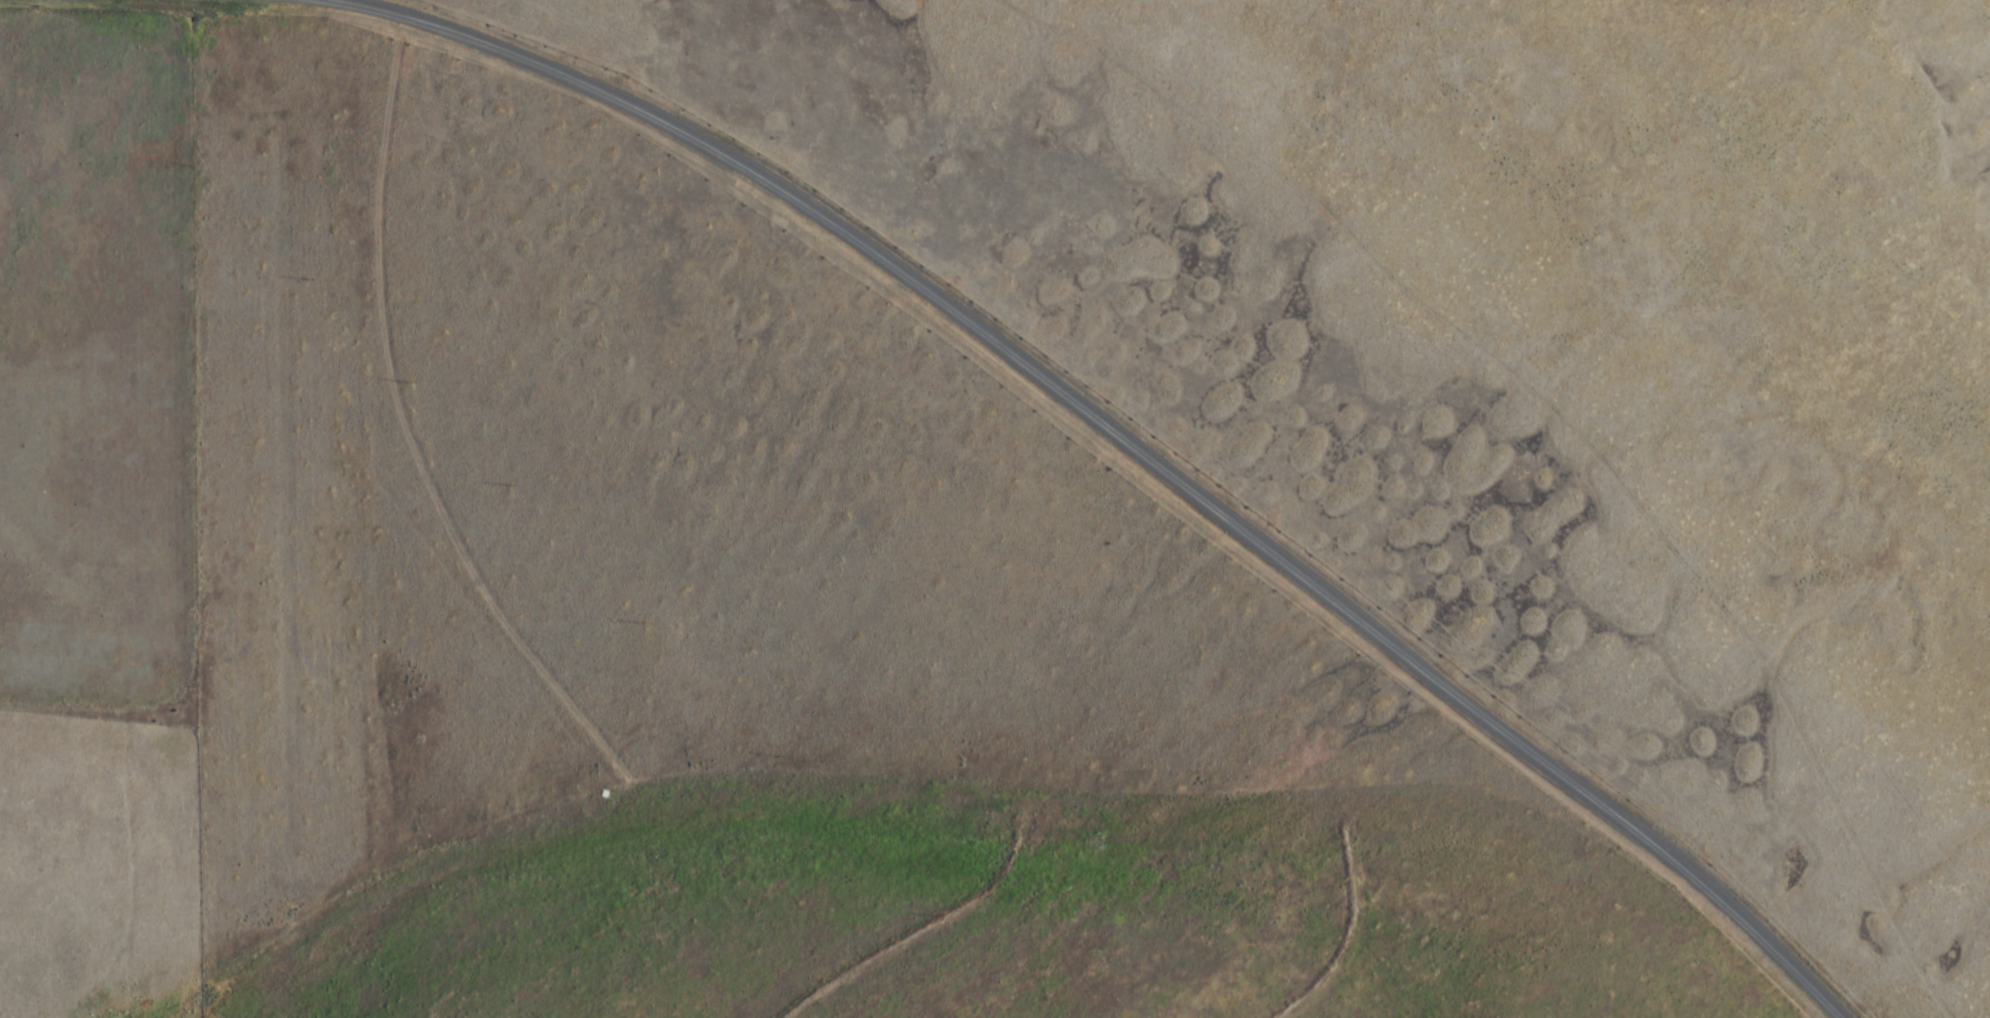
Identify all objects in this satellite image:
road: (1052, 390)

